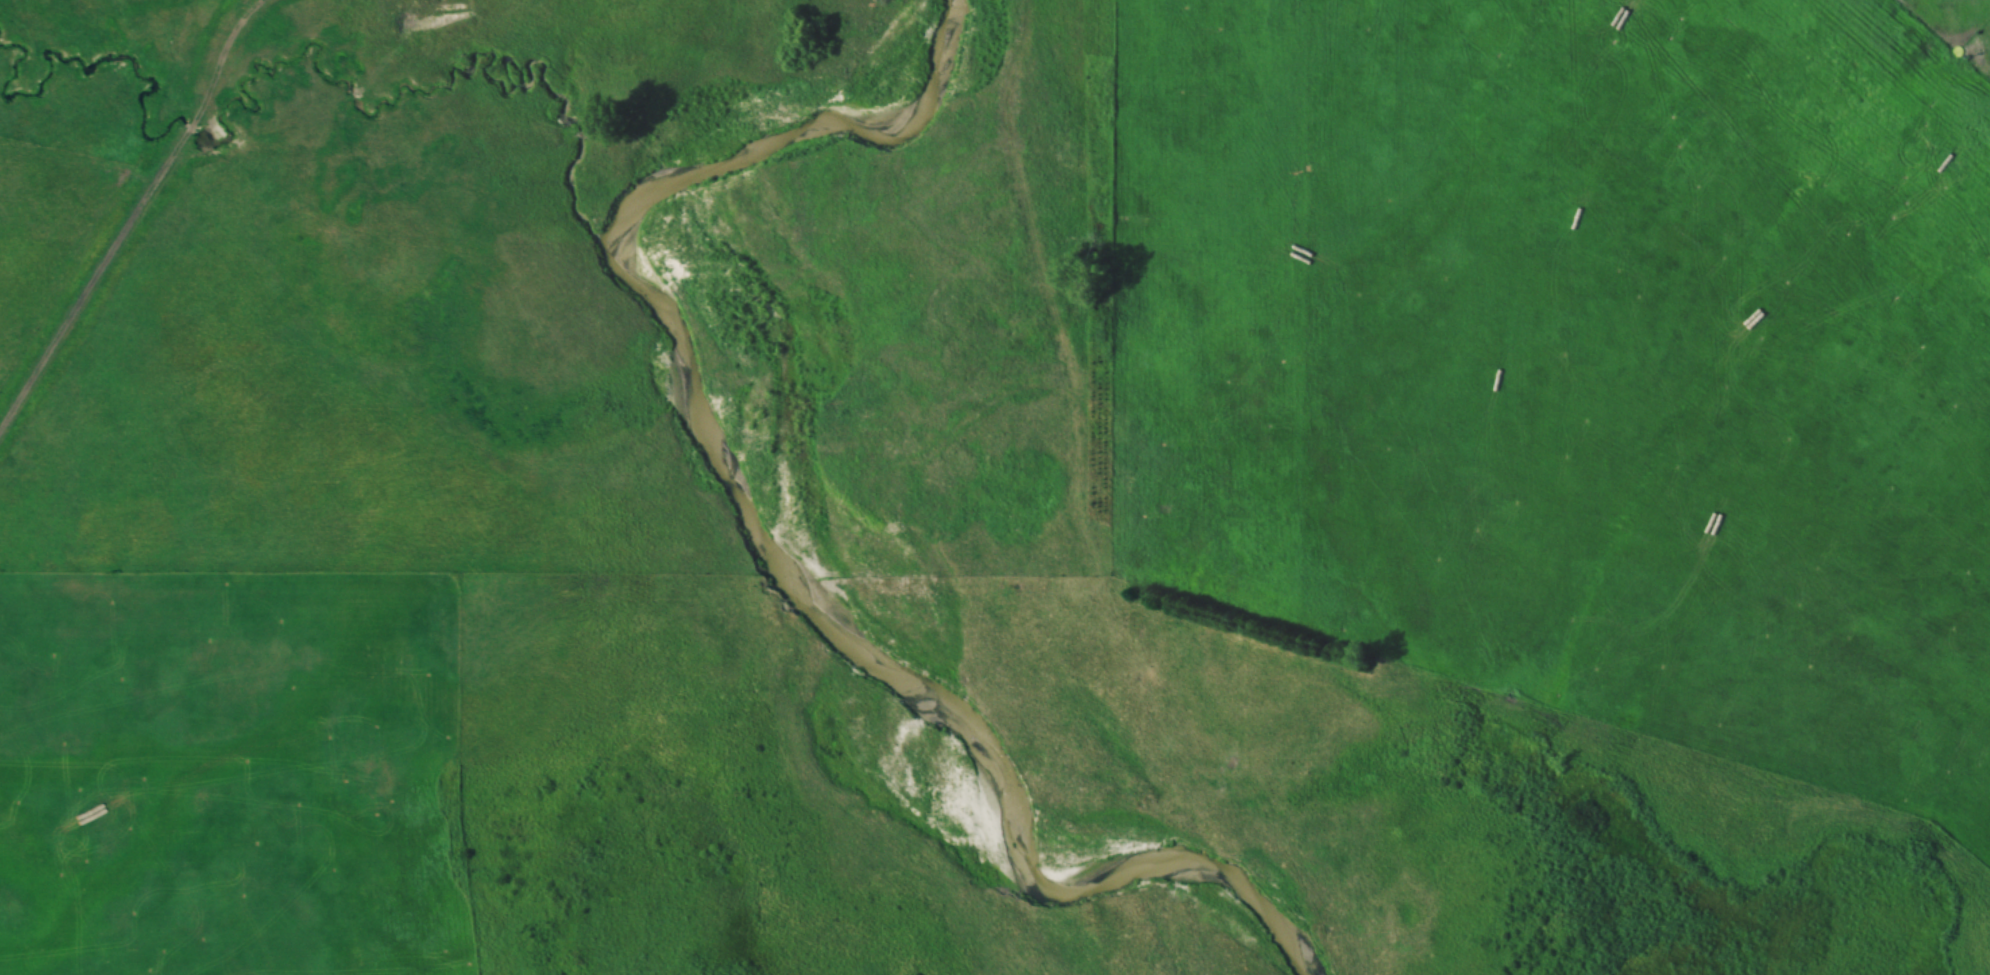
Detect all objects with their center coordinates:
river: (481, 71)
river: (685, 396)
river: (780, 510)

